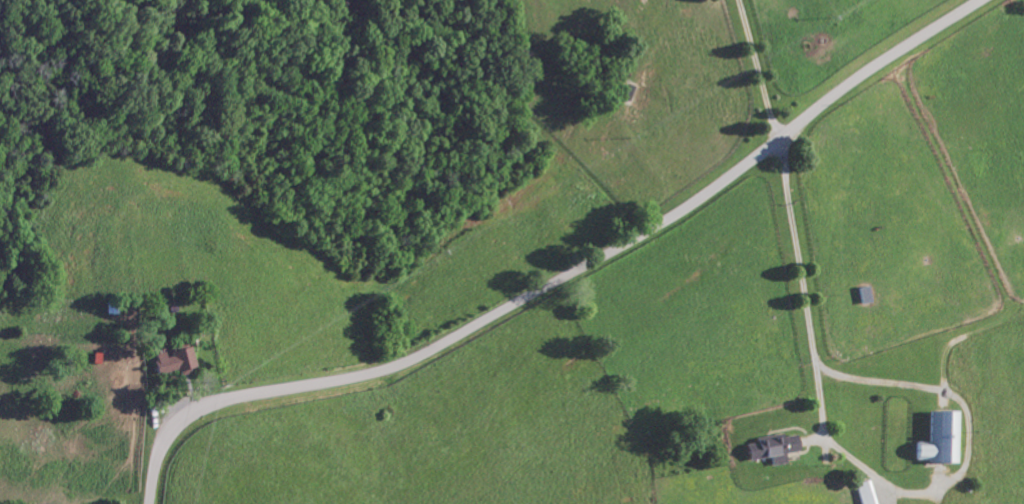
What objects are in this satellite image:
road: (752, 71)
road: (561, 277)
building: (179, 361)
building: (936, 439)
building: (767, 448)
road: (859, 465)
building: (864, 492)

